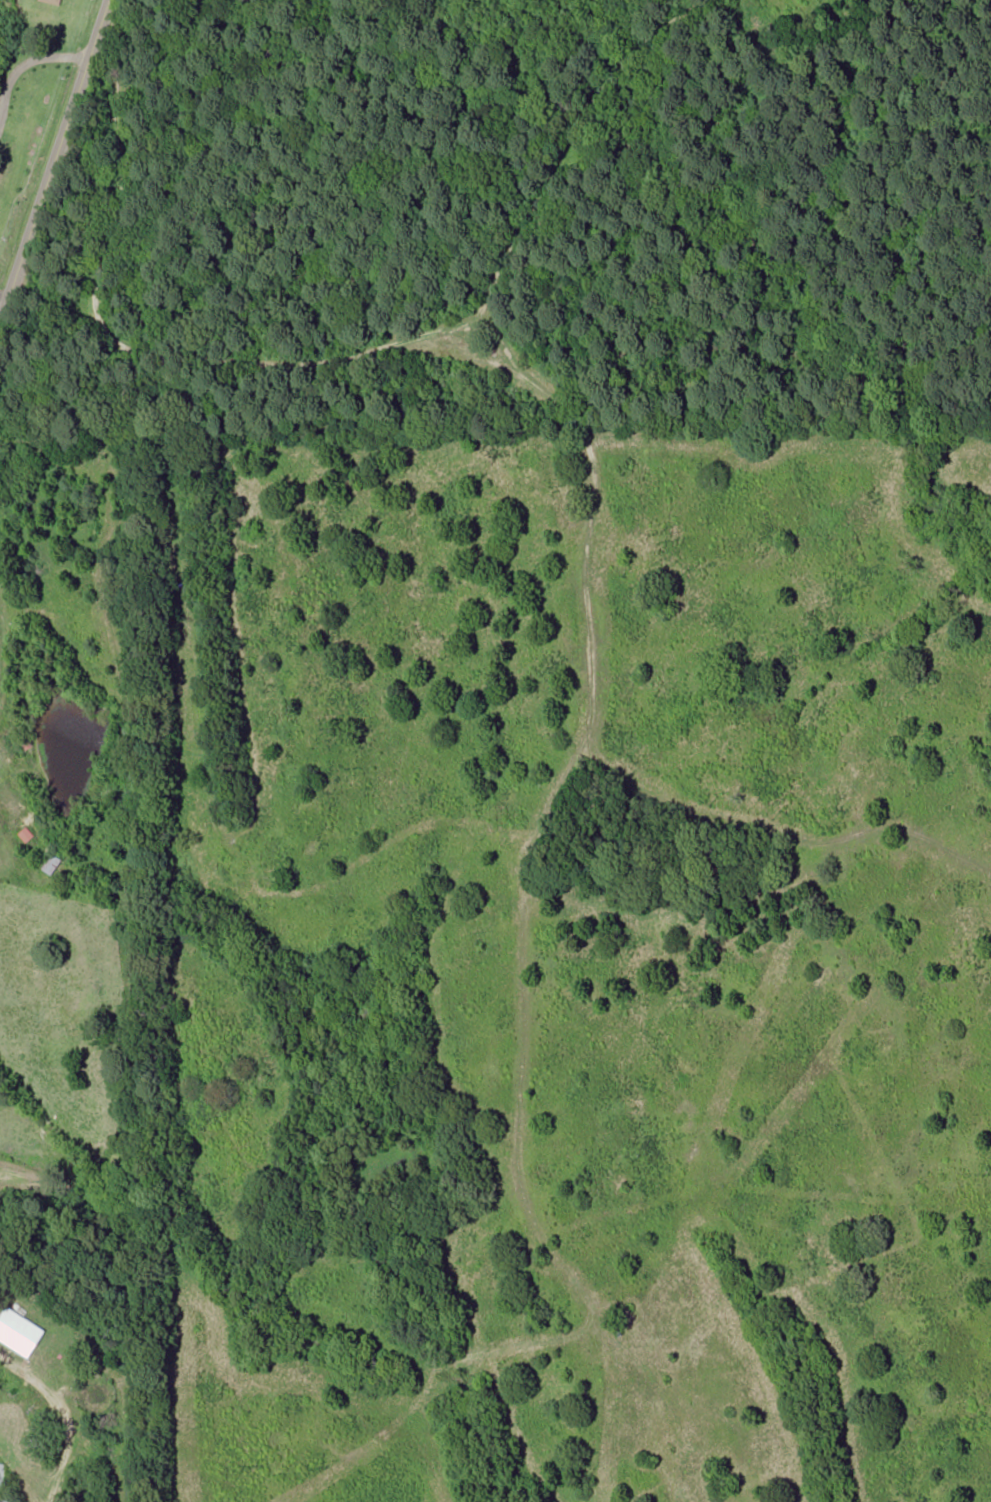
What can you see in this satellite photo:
building: (51, 1)
road: (97, 28)
road: (45, 186)
road: (3, 295)
building: (52, 865)

